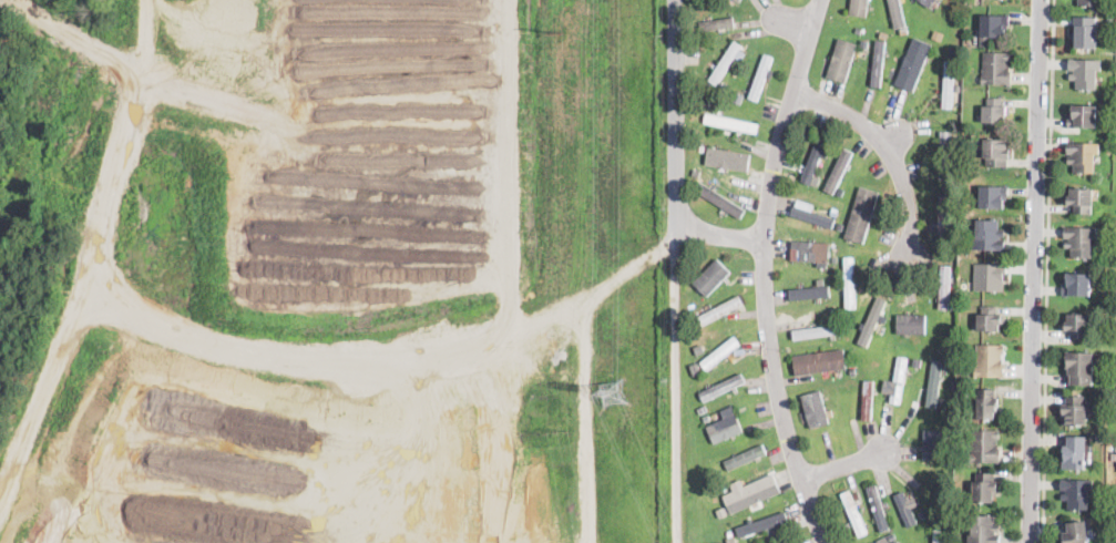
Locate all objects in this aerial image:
building: (738, 0)
building: (698, 2)
building: (929, 2)
building: (1091, 2)
building: (860, 10)
building: (897, 12)
building: (1110, 16)
building: (717, 22)
building: (993, 28)
building: (858, 29)
power tower: (557, 31)
building: (1087, 32)
building: (864, 43)
building: (954, 51)
building: (841, 59)
building: (727, 62)
building: (878, 62)
building: (913, 63)
building: (996, 69)
building: (1086, 74)
building: (761, 75)
building: (948, 84)
building: (738, 96)
building: (706, 101)
building: (995, 111)
building: (1084, 116)
building: (730, 122)
road: (674, 127)
building: (1109, 141)
road: (887, 153)
building: (996, 153)
building: (944, 154)
building: (1084, 156)
building: (815, 158)
road: (115, 160)
building: (723, 160)
building: (839, 170)
building: (696, 172)
building: (816, 180)
building: (993, 196)
building: (720, 199)
building: (1082, 201)
building: (811, 213)
building: (861, 213)
building: (942, 214)
building: (839, 225)
road: (719, 232)
building: (989, 236)
building: (1081, 240)
building: (811, 252)
building: (833, 258)
building: (697, 260)
road: (1032, 270)
landfill: (326, 271)
road: (1047, 271)
road: (764, 273)
building: (711, 276)
building: (990, 277)
building: (849, 280)
building: (1077, 285)
building: (944, 287)
building: (830, 290)
building: (806, 293)
building: (720, 310)
building: (839, 316)
building: (990, 319)
building: (873, 321)
building: (911, 322)
building: (1078, 326)
building: (817, 330)
building: (699, 348)
road: (289, 352)
building: (717, 357)
building: (914, 361)
building: (990, 361)
building: (820, 362)
building: (1081, 368)
building: (852, 370)
building: (898, 379)
building: (934, 382)
building: (721, 386)
power tower: (610, 391)
road: (674, 399)
building: (867, 399)
building: (986, 404)
building: (702, 408)
building: (816, 410)
building: (829, 411)
building: (1076, 411)
building: (706, 417)
building: (725, 424)
power tower: (556, 430)
building: (948, 447)
building: (985, 447)
building: (931, 451)
building: (1075, 452)
building: (746, 455)
road: (846, 464)
building: (985, 486)
building: (752, 493)
building: (1077, 493)
building: (857, 494)
building: (878, 509)
building: (904, 509)
building: (853, 513)
building: (921, 513)
building: (761, 523)
building: (985, 530)
building: (1076, 532)
building: (938, 535)
building: (892, 536)
building: (731, 540)
building: (897, 542)

